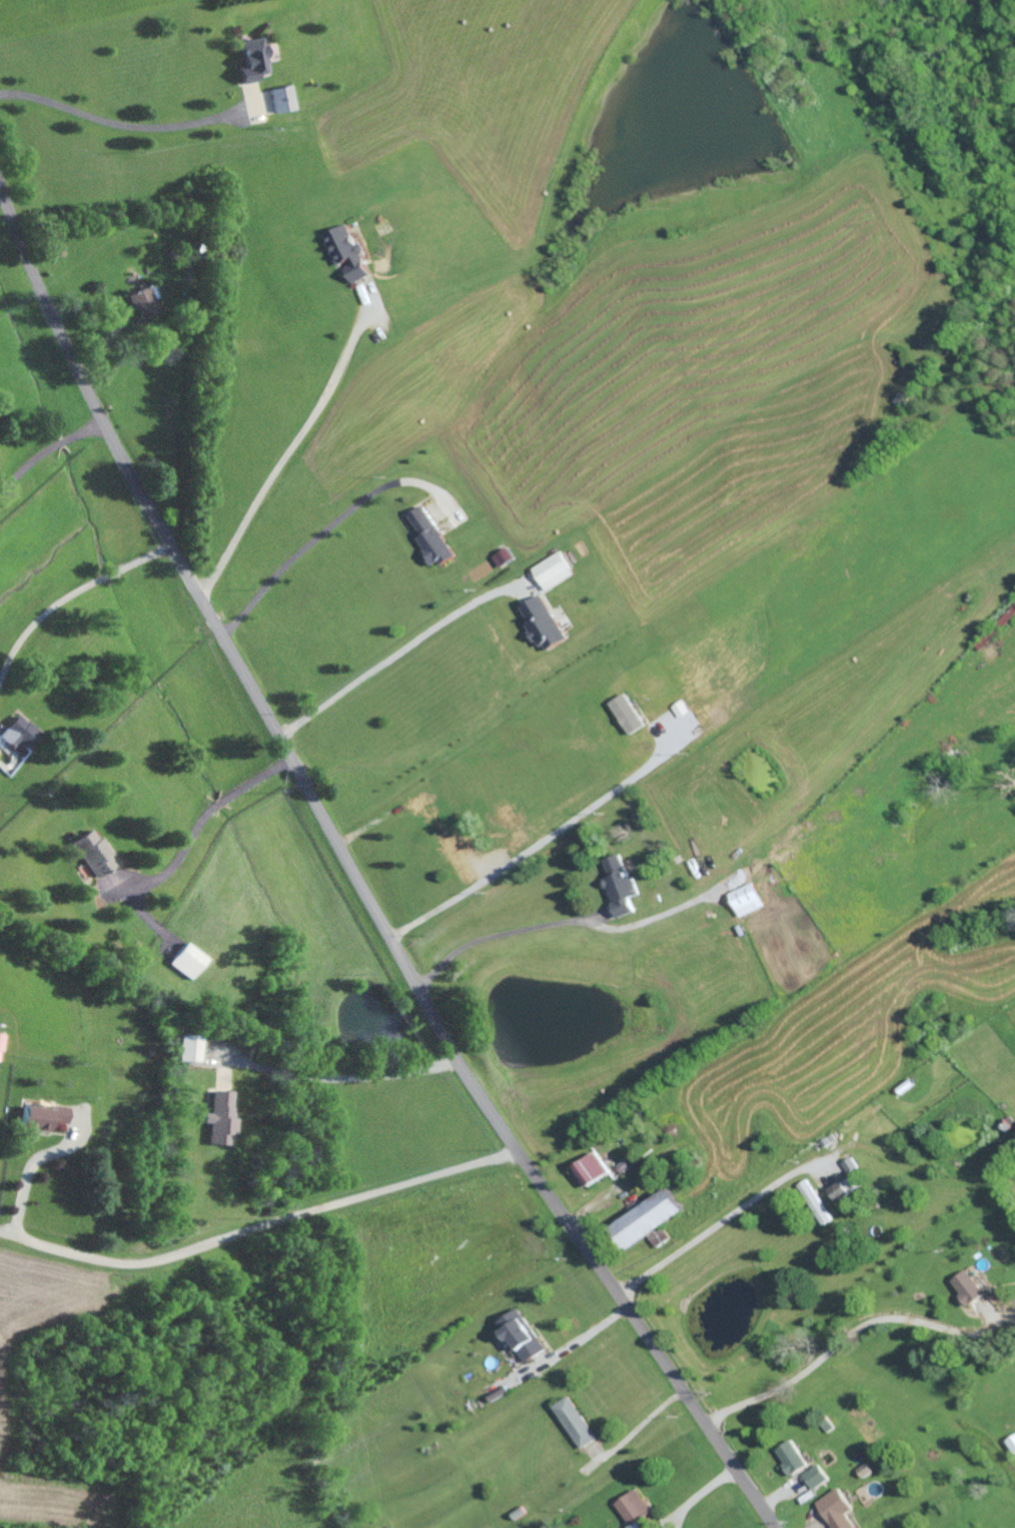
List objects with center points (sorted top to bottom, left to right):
building: (250, 59)
building: (282, 98)
road: (116, 126)
building: (346, 251)
building: (141, 302)
road: (47, 453)
road: (286, 466)
building: (428, 536)
road: (311, 543)
building: (551, 571)
road: (69, 596)
building: (1012, 609)
building: (541, 622)
road: (401, 649)
building: (624, 713)
building: (17, 732)
road: (258, 779)
road: (219, 803)
road: (542, 840)
building: (89, 852)
road: (178, 857)
building: (479, 865)
road: (353, 873)
building: (618, 885)
building: (744, 900)
road: (498, 936)
building: (187, 961)
building: (187, 1048)
road: (340, 1077)
building: (41, 1116)
building: (216, 1117)
road: (32, 1167)
building: (589, 1169)
building: (840, 1190)
building: (641, 1221)
road: (712, 1227)
road: (258, 1228)
building: (966, 1288)
road: (585, 1335)
building: (518, 1336)
road: (842, 1340)
road: (526, 1372)
building: (572, 1421)
road: (639, 1425)
building: (790, 1456)
building: (816, 1476)
road: (710, 1485)
building: (631, 1506)
building: (836, 1509)
road: (681, 1515)
road: (671, 1516)

